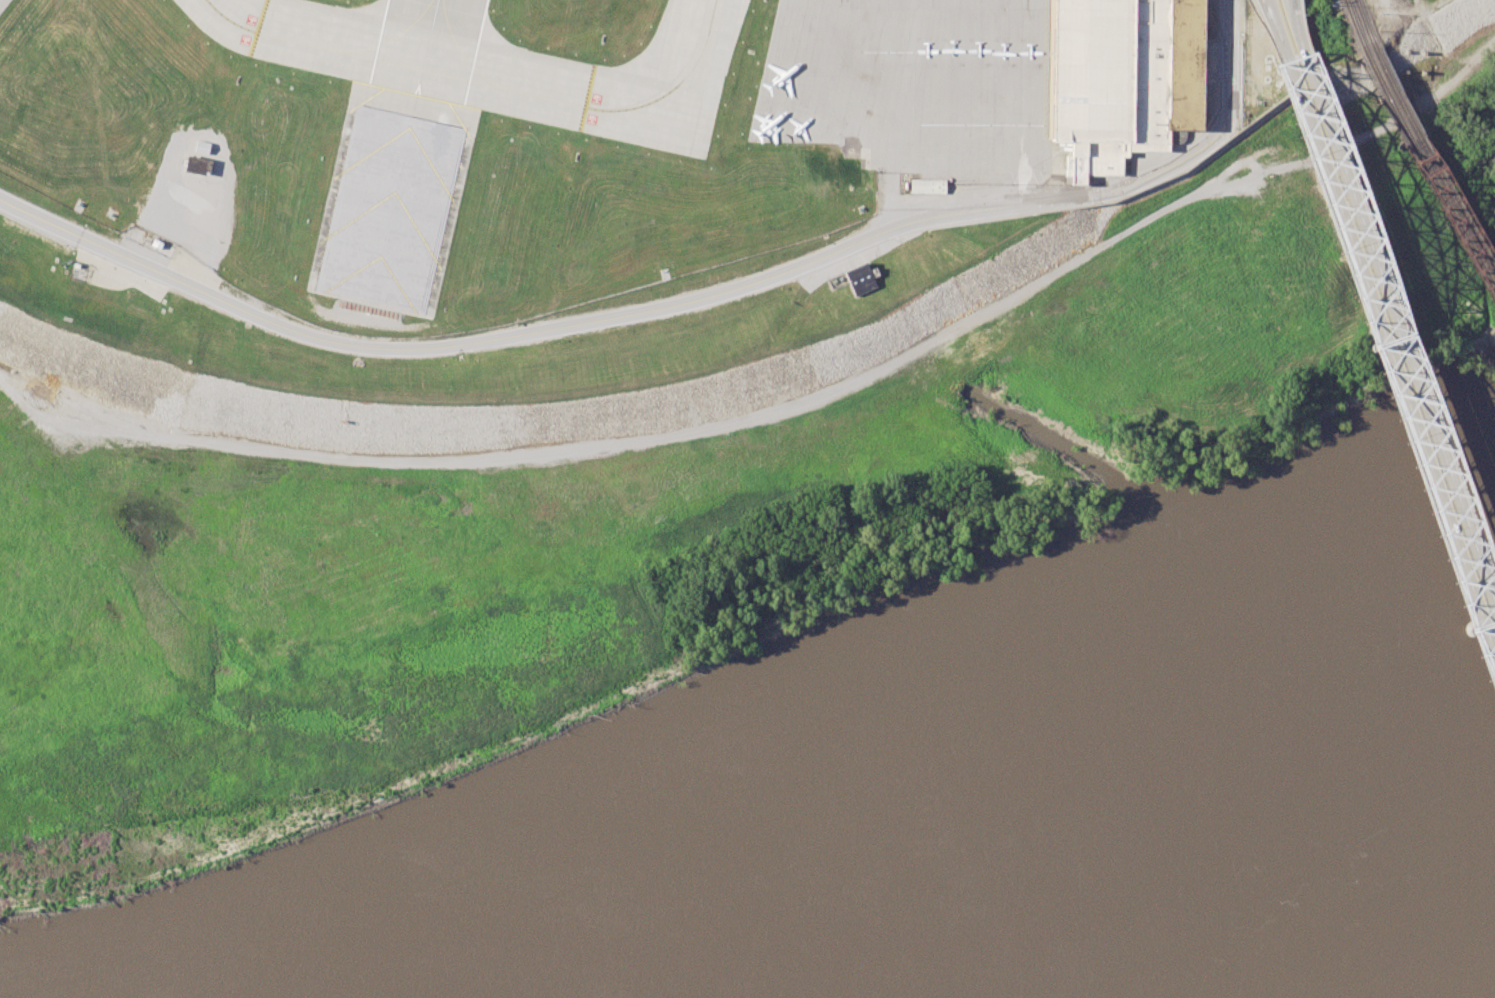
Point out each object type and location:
road: (1265, 3)
road: (1267, 3)
road: (1394, 5)
road: (1423, 8)
road: (1291, 12)
road: (1293, 12)
railway: (1364, 24)
railway: (1355, 26)
road: (1276, 34)
road: (1298, 40)
airport taxiway: (704, 44)
airport runway: (426, 47)
road: (1231, 52)
airport taxiway: (441, 73)
building: (1123, 78)
airport apron: (915, 85)
airport: (565, 131)
road: (1207, 138)
railway: (1434, 158)
building: (197, 165)
railway: (1430, 171)
building: (927, 186)
building: (860, 279)
road: (582, 321)
road: (1398, 342)
road: (1390, 373)
road: (658, 437)
river: (1145, 810)

